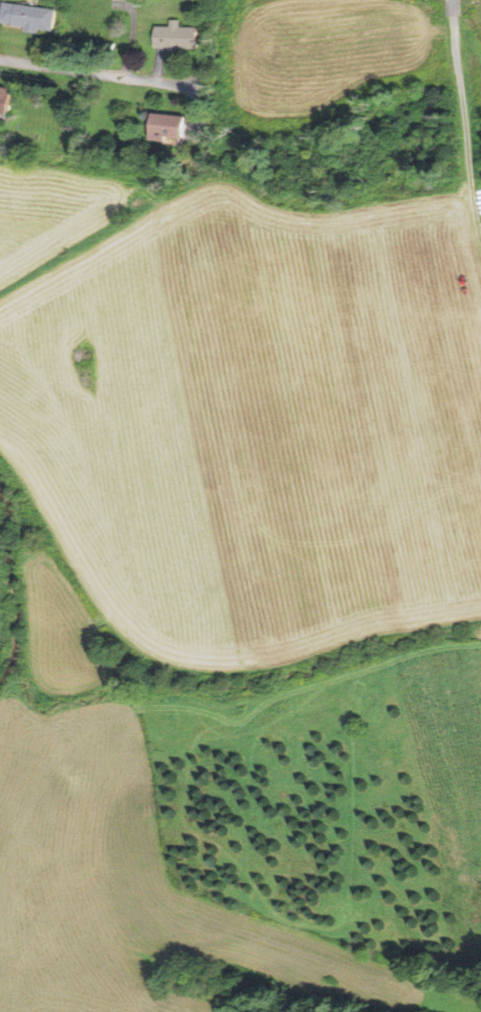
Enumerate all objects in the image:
road: (454, 7)
building: (29, 16)
building: (176, 36)
road: (95, 73)
building: (6, 98)
road: (462, 99)
building: (169, 126)
road: (474, 212)
river: (12, 585)
river: (1, 673)

